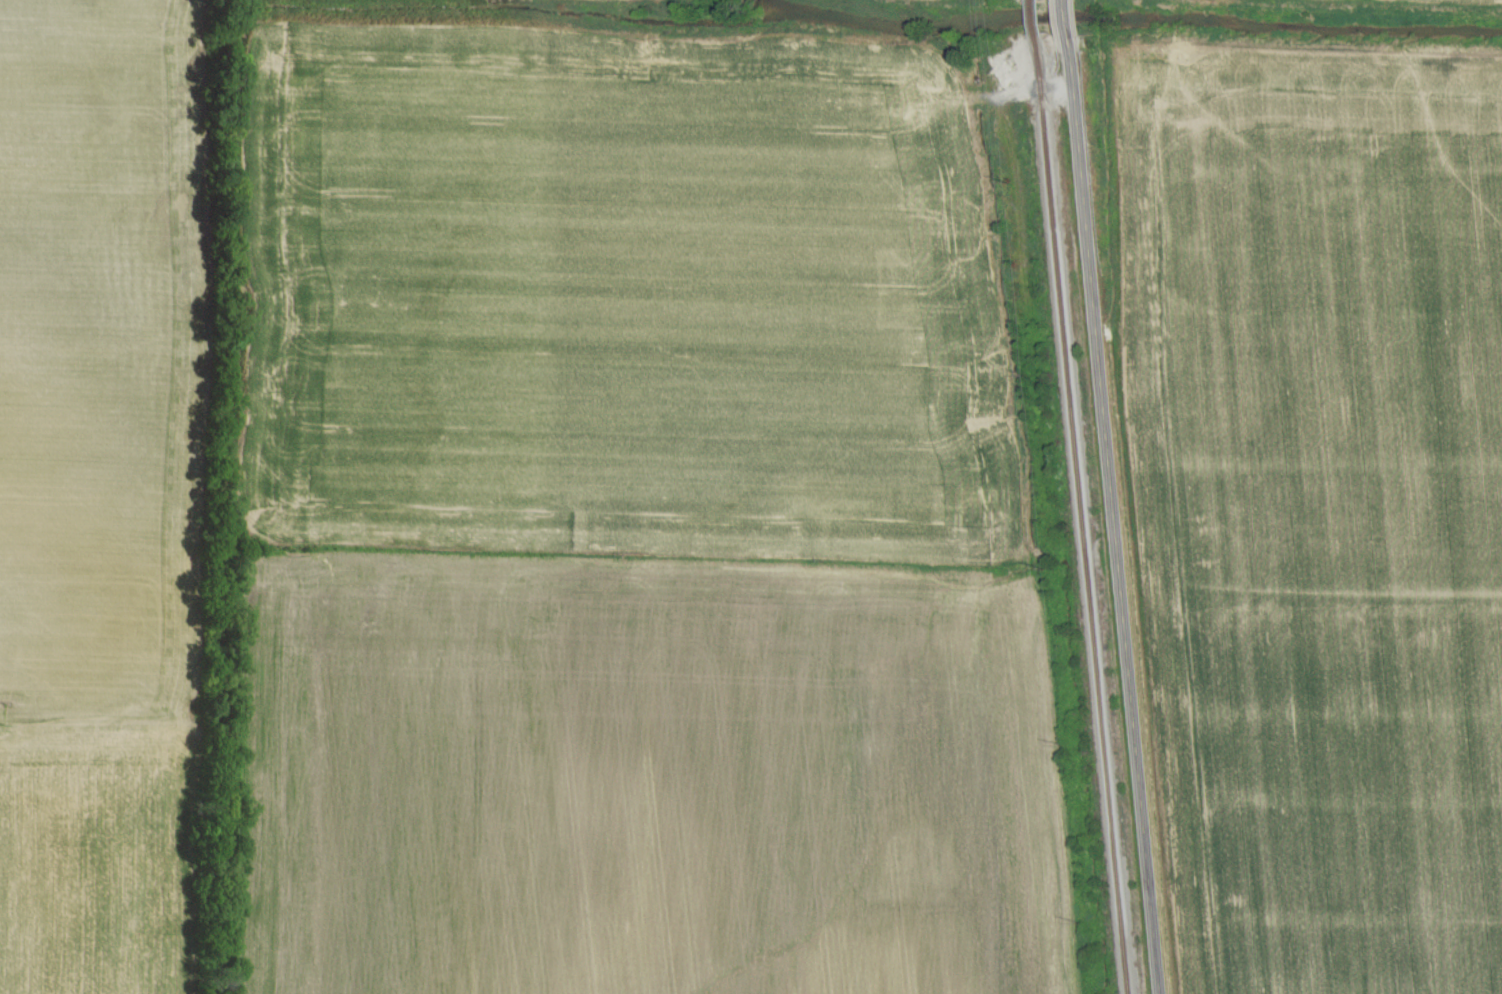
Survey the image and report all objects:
railway: (1033, 19)
road: (1115, 496)
railway: (1081, 516)

